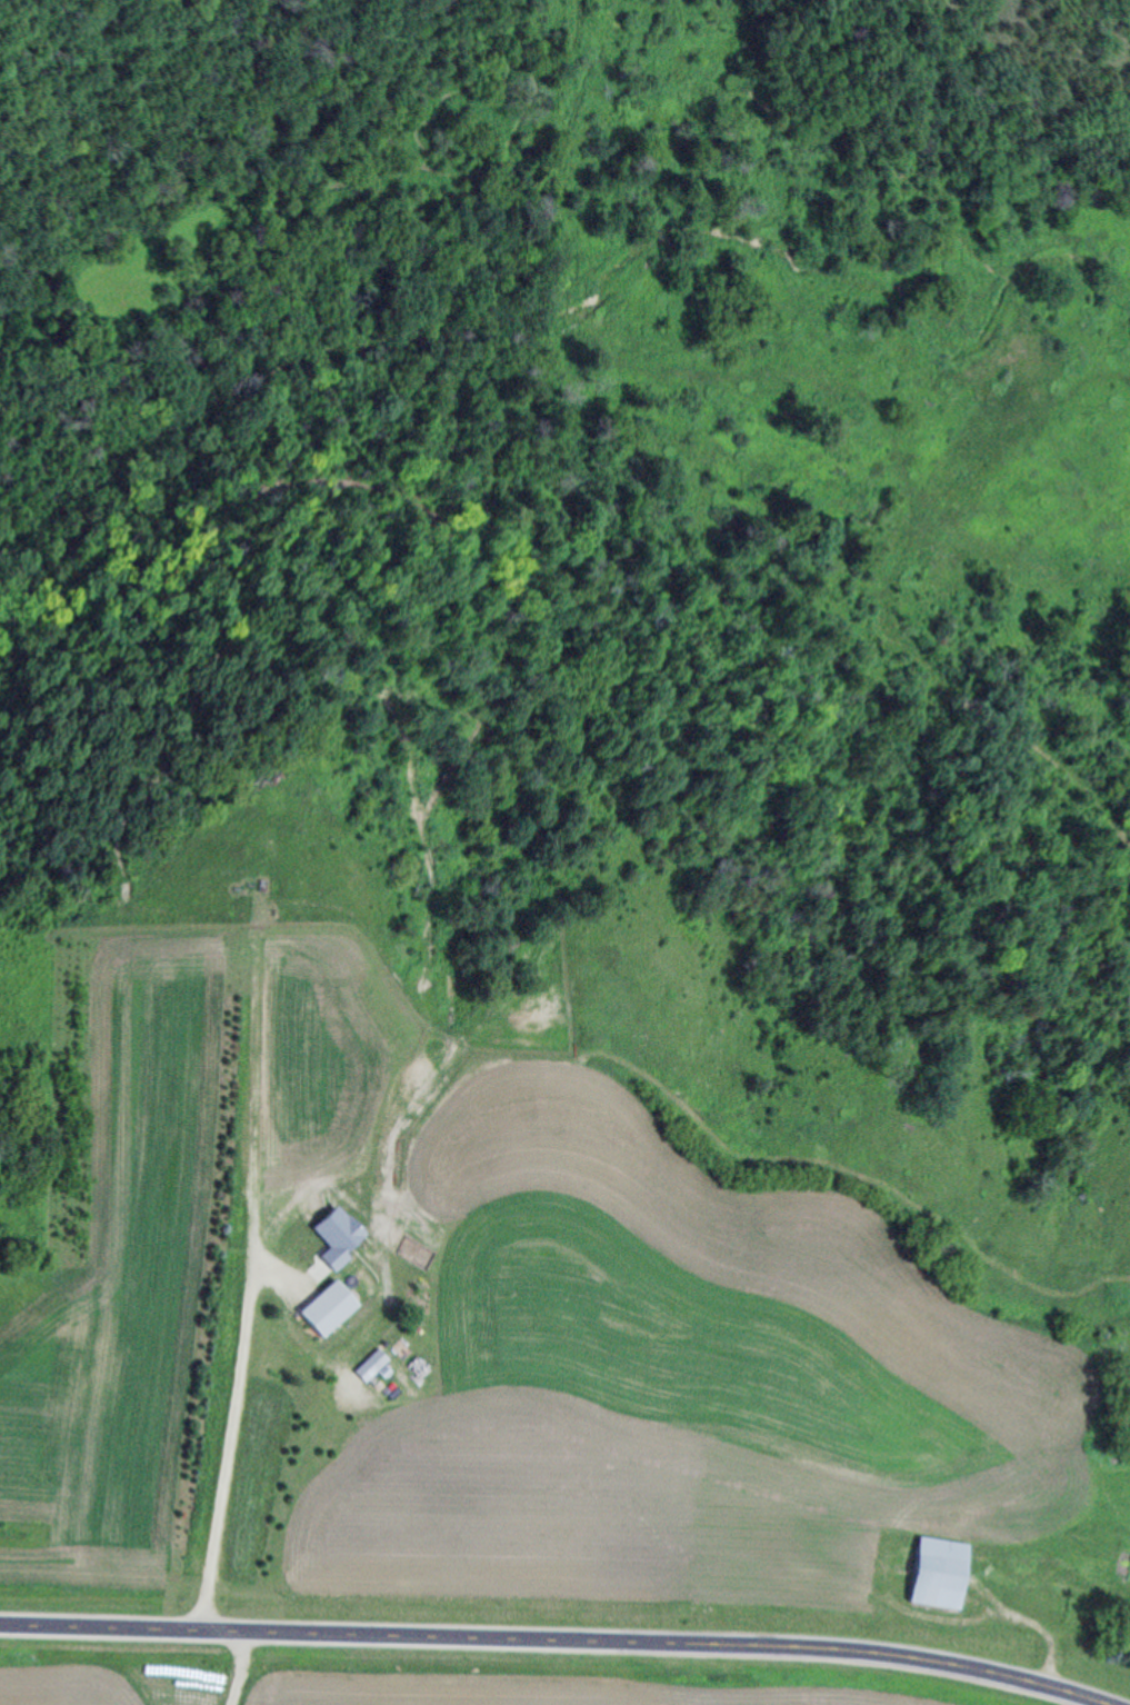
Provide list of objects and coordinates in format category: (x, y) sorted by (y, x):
road: (250, 1283)
building: (323, 1308)
building: (376, 1360)
building: (936, 1574)
road: (557, 1638)

